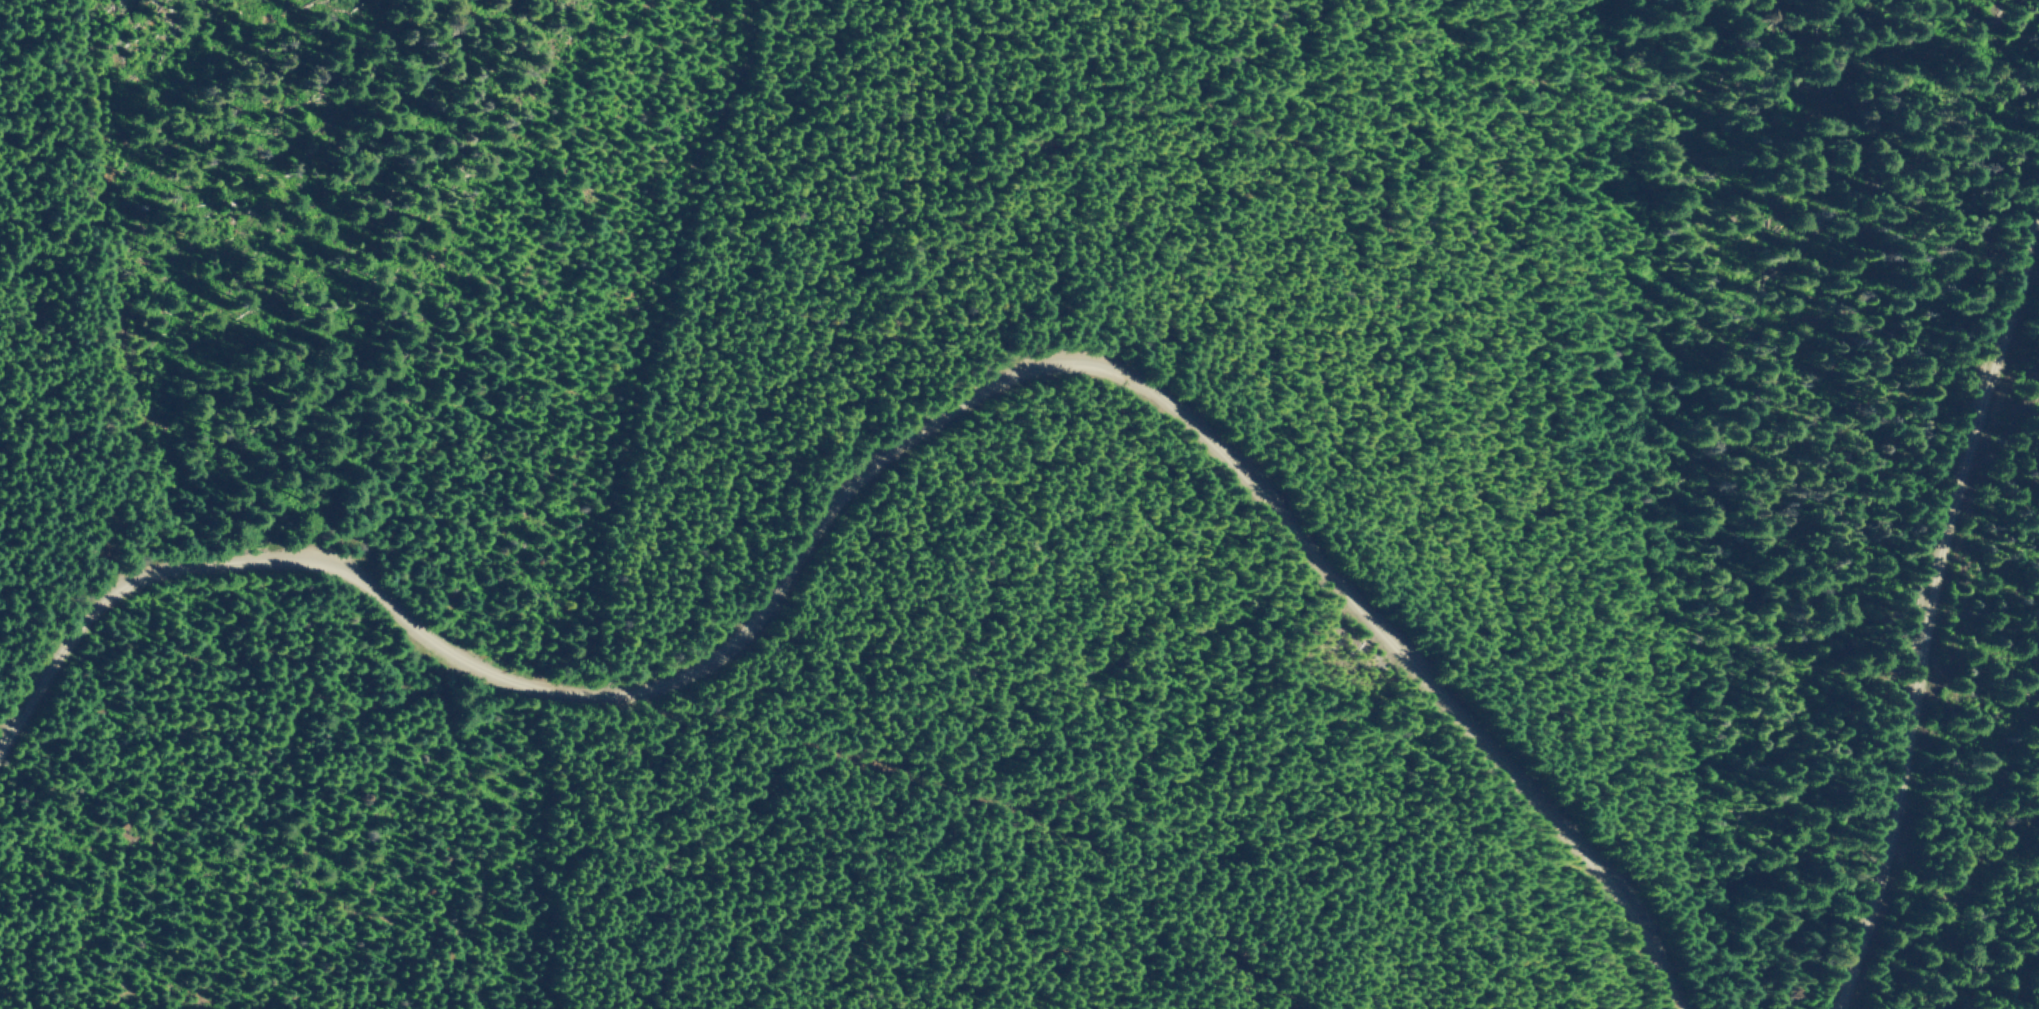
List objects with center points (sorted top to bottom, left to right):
road: (893, 453)
road: (1929, 586)

